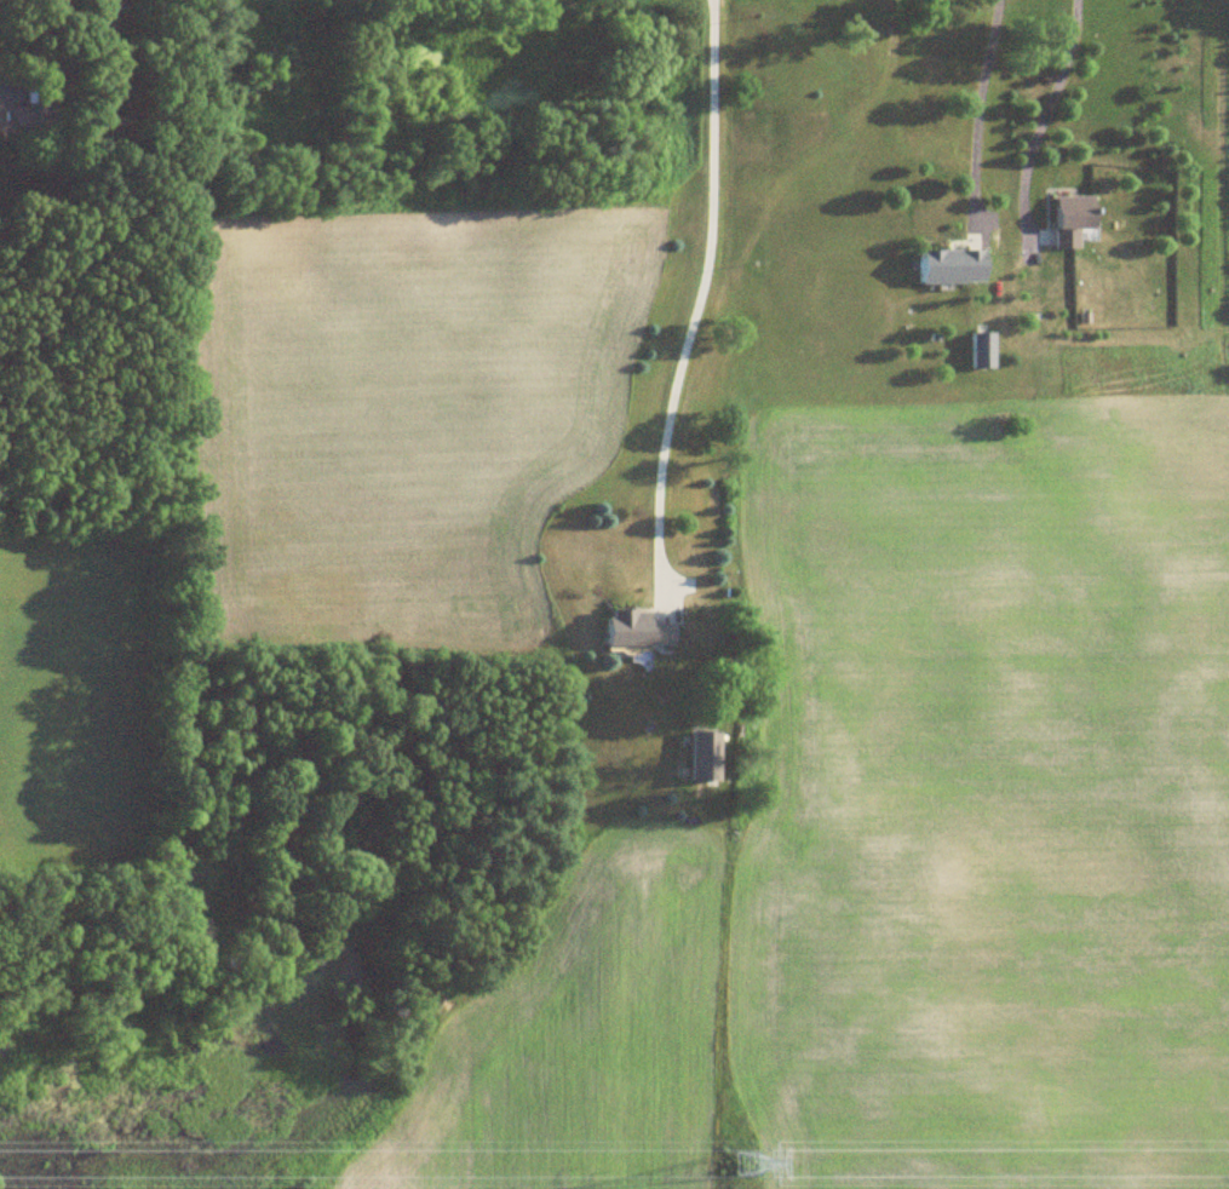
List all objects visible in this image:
road: (976, 108)
building: (24, 111)
road: (1043, 119)
building: (1070, 222)
building: (949, 266)
road: (694, 299)
building: (981, 351)
building: (632, 631)
building: (702, 758)
power tower: (745, 1170)

